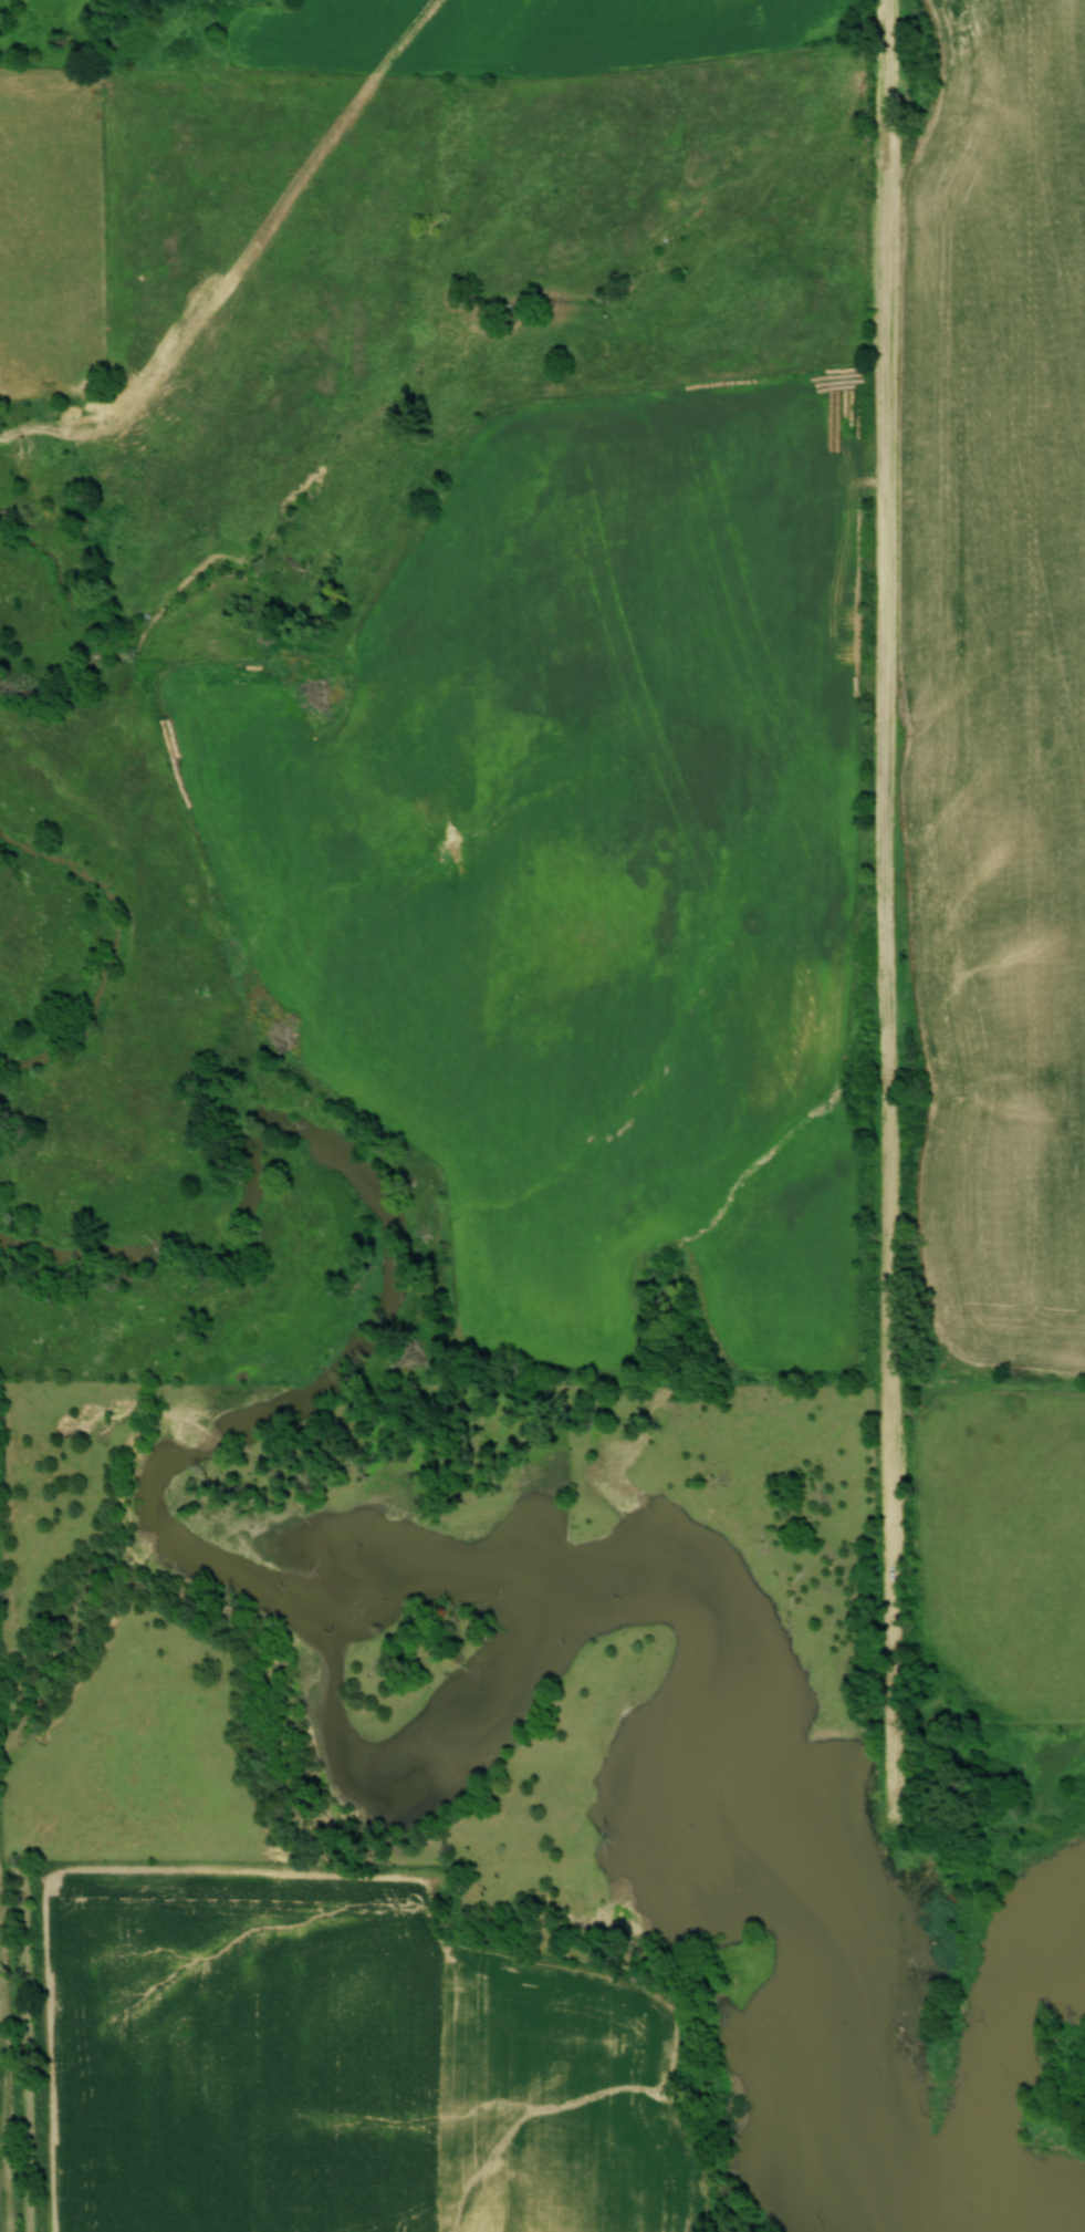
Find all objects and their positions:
road: (894, 894)

